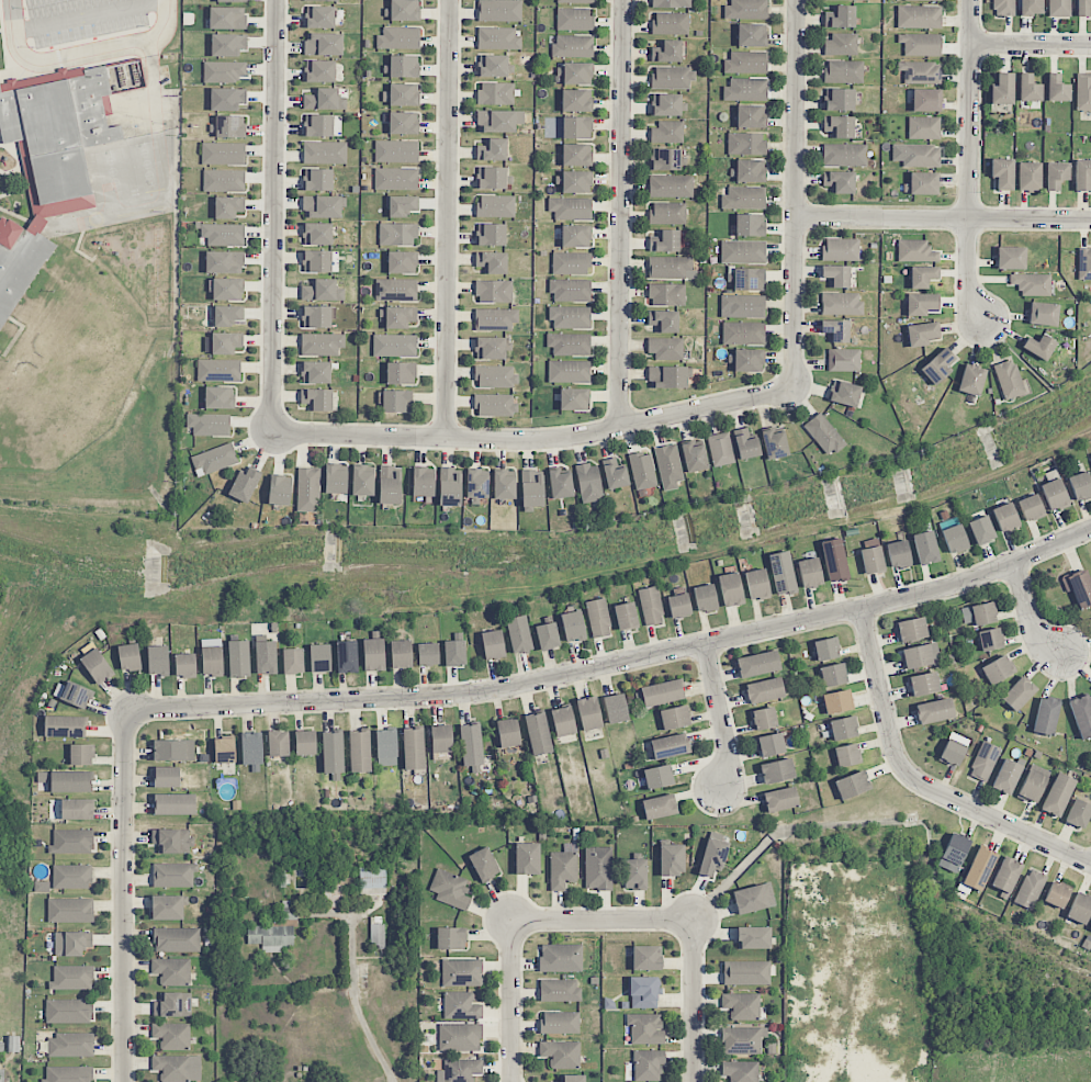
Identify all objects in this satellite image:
building: (318, 0)
building: (858, 0)
building: (925, 0)
building: (232, 1)
building: (575, 1)
building: (672, 3)
building: (1031, 7)
building: (1003, 8)
building: (1058, 8)
building: (1082, 8)
building: (746, 9)
building: (402, 10)
building: (499, 10)
building: (319, 16)
building: (840, 16)
building: (919, 16)
building: (227, 18)
building: (574, 19)
building: (671, 23)
building: (752, 35)
building: (398, 37)
building: (498, 38)
road: (1031, 43)
building: (227, 44)
building: (323, 44)
building: (921, 44)
building: (573, 45)
building: (840, 45)
building: (666, 52)
road: (80, 54)
building: (746, 63)
building: (404, 66)
building: (494, 66)
building: (224, 70)
building: (319, 71)
building: (843, 71)
building: (920, 71)
building: (575, 74)
building: (672, 77)
building: (1028, 88)
building: (1056, 88)
building: (745, 89)
building: (1002, 89)
building: (1083, 91)
building: (495, 93)
building: (401, 94)
building: (227, 99)
building: (839, 99)
building: (324, 100)
building: (576, 100)
building: (926, 100)
building: (667, 104)
building: (751, 116)
building: (498, 121)
building: (403, 123)
building: (318, 125)
building: (229, 126)
building: (839, 126)
building: (577, 127)
building: (923, 127)
building: (666, 133)
building: (745, 144)
building: (492, 149)
building: (396, 151)
building: (324, 153)
building: (223, 154)
building: (576, 155)
building: (844, 155)
building: (921, 155)
building: (667, 159)
building: (48, 161)
road: (969, 165)
building: (750, 170)
building: (1002, 173)
building: (1056, 174)
building: (1082, 176)
building: (1028, 177)
building: (396, 178)
building: (493, 178)
building: (317, 179)
building: (224, 180)
building: (576, 181)
building: (839, 181)
building: (923, 183)
building: (671, 185)
road: (794, 194)
building: (744, 198)
building: (402, 205)
building: (496, 205)
building: (228, 206)
building: (322, 206)
building: (570, 207)
road: (620, 213)
building: (667, 213)
road: (273, 216)
road: (942, 216)
road: (449, 219)
building: (750, 225)
building: (222, 234)
building: (317, 234)
building: (397, 234)
building: (491, 235)
building: (576, 236)
building: (663, 241)
building: (840, 249)
building: (743, 251)
building: (915, 251)
building: (1011, 258)
building: (316, 261)
building: (224, 262)
building: (402, 262)
building: (492, 262)
building: (571, 263)
building: (1084, 263)
building: (671, 268)
building: (836, 275)
building: (922, 277)
building: (749, 280)
building: (1032, 284)
building: (227, 289)
building: (395, 290)
building: (322, 291)
building: (494, 291)
building: (571, 291)
building: (666, 294)
building: (841, 303)
building: (921, 304)
building: (742, 306)
building: (1043, 314)
building: (226, 315)
building: (316, 317)
building: (397, 317)
building: (570, 317)
building: (495, 319)
building: (663, 320)
building: (835, 330)
building: (743, 333)
building: (922, 334)
building: (225, 343)
building: (322, 343)
building: (394, 345)
building: (569, 345)
building: (1039, 347)
building: (492, 348)
building: (665, 348)
building: (749, 360)
building: (843, 360)
building: (937, 365)
building: (218, 370)
building: (569, 371)
building: (315, 372)
building: (401, 373)
building: (494, 376)
building: (668, 376)
building: (971, 380)
building: (1009, 380)
building: (844, 393)
building: (218, 397)
building: (316, 399)
building: (574, 399)
building: (396, 401)
building: (495, 405)
building: (209, 425)
building: (823, 435)
road: (535, 441)
building: (745, 443)
building: (775, 443)
building: (720, 449)
building: (694, 458)
building: (214, 460)
building: (668, 466)
building: (642, 471)
building: (615, 474)
building: (336, 478)
building: (362, 481)
building: (423, 482)
building: (589, 483)
building: (245, 484)
building: (477, 484)
building: (560, 484)
building: (390, 485)
building: (504, 485)
building: (449, 486)
building: (1080, 486)
building: (308, 489)
building: (279, 491)
building: (531, 491)
building: (1054, 494)
building: (1031, 507)
building: (1005, 517)
building: (981, 530)
building: (954, 539)
building: (925, 548)
building: (898, 554)
building: (834, 560)
building: (871, 560)
building: (781, 573)
building: (809, 573)
building: (756, 584)
building: (1078, 587)
building: (730, 589)
building: (705, 598)
building: (651, 606)
building: (678, 606)
building: (978, 613)
building: (626, 616)
road: (1030, 616)
building: (598, 618)
building: (573, 625)
building: (911, 629)
building: (518, 634)
building: (547, 636)
building: (990, 639)
building: (493, 644)
building: (825, 649)
building: (454, 653)
building: (373, 654)
building: (401, 654)
building: (427, 654)
building: (920, 655)
building: (128, 656)
building: (347, 656)
building: (266, 657)
building: (238, 658)
building: (319, 658)
building: (157, 660)
building: (212, 661)
building: (293, 661)
road: (615, 664)
building: (757, 664)
building: (184, 665)
building: (97, 666)
building: (997, 669)
building: (833, 675)
building: (924, 684)
building: (764, 690)
building: (662, 692)
building: (1019, 694)
building: (76, 695)
building: (837, 701)
building: (616, 708)
building: (934, 711)
building: (588, 713)
building: (1046, 715)
building: (1081, 715)
building: (674, 718)
road: (721, 718)
building: (764, 718)
building: (563, 721)
building: (65, 726)
building: (843, 729)
building: (538, 733)
building: (508, 736)
building: (441, 739)
building: (278, 743)
building: (305, 743)
building: (471, 745)
building: (769, 745)
building: (670, 746)
building: (386, 747)
building: (251, 748)
building: (413, 748)
building: (224, 749)
building: (170, 751)
building: (359, 751)
building: (331, 753)
building: (952, 753)
building: (81, 755)
building: (847, 755)
building: (983, 760)
building: (776, 771)
building: (1006, 776)
building: (167, 777)
building: (657, 777)
building: (71, 781)
road: (921, 781)
building: (852, 785)
building: (1032, 786)
building: (1058, 793)
building: (780, 799)
building: (175, 803)
building: (659, 807)
building: (77, 809)
building: (1078, 813)
building: (172, 841)
building: (72, 842)
building: (955, 848)
building: (712, 857)
building: (527, 858)
building: (671, 859)
building: (484, 864)
building: (598, 868)
building: (562, 869)
building: (979, 869)
building: (172, 875)
building: (634, 875)
building: (1005, 876)
building: (71, 877)
building: (372, 880)
building: (42, 887)
building: (450, 889)
building: (1030, 889)
building: (1057, 894)
road: (124, 898)
building: (753, 898)
building: (168, 908)
building: (1080, 909)
building: (70, 910)
building: (289, 910)
road: (686, 920)
building: (1090, 928)
building: (376, 935)
building: (271, 937)
building: (753, 937)
building: (451, 938)
building: (177, 939)
building: (71, 943)
building: (561, 958)
building: (646, 958)
building: (171, 971)
building: (462, 972)
building: (746, 973)
building: (72, 978)
building: (559, 990)
building: (643, 991)
road: (514, 1001)
road: (357, 1003)
building: (172, 1005)
building: (742, 1005)
building: (461, 1006)
building: (68, 1011)
building: (560, 1023)
building: (645, 1028)
building: (171, 1035)
building: (459, 1037)
building: (742, 1040)
building: (12, 1044)
building: (70, 1045)
building: (561, 1053)
building: (648, 1064)
building: (178, 1068)
building: (459, 1070)
building: (740, 1071)
building: (68, 1074)
building: (2, 1075)
building: (573, 1078)

